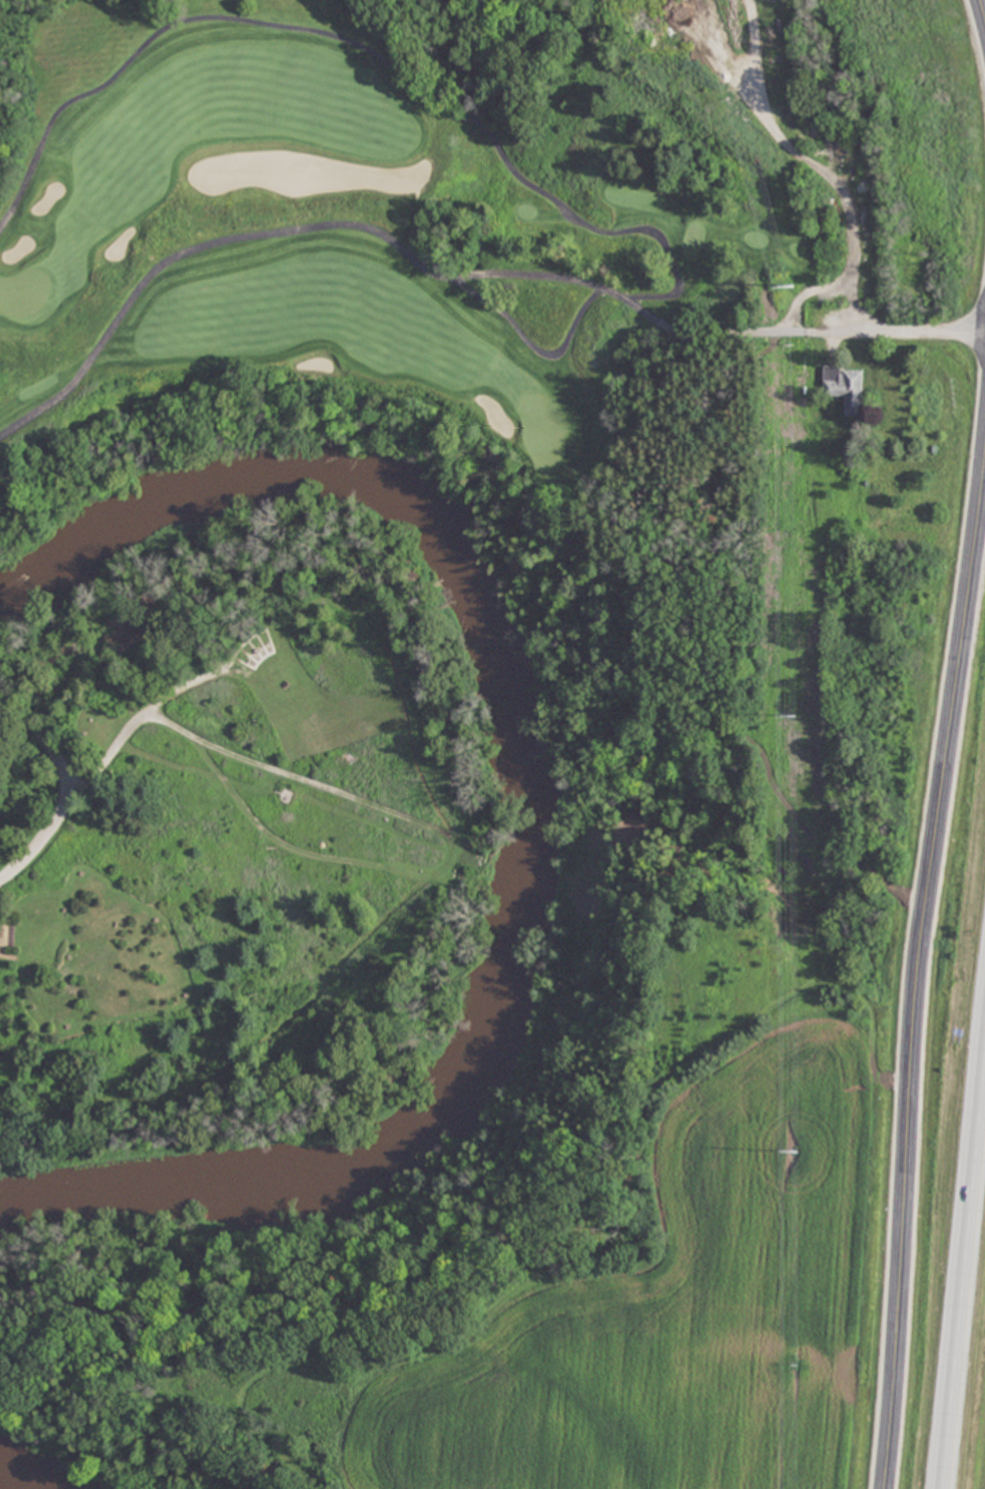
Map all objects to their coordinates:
road: (982, 8)
road: (649, 236)
park: (25, 292)
road: (913, 331)
road: (553, 349)
building: (847, 388)
building: (912, 409)
park: (543, 428)
park: (392, 464)
building: (907, 542)
road: (63, 791)
river: (521, 815)
road: (919, 971)
road: (964, 1288)
crop: (687, 1306)
river: (23, 1479)

